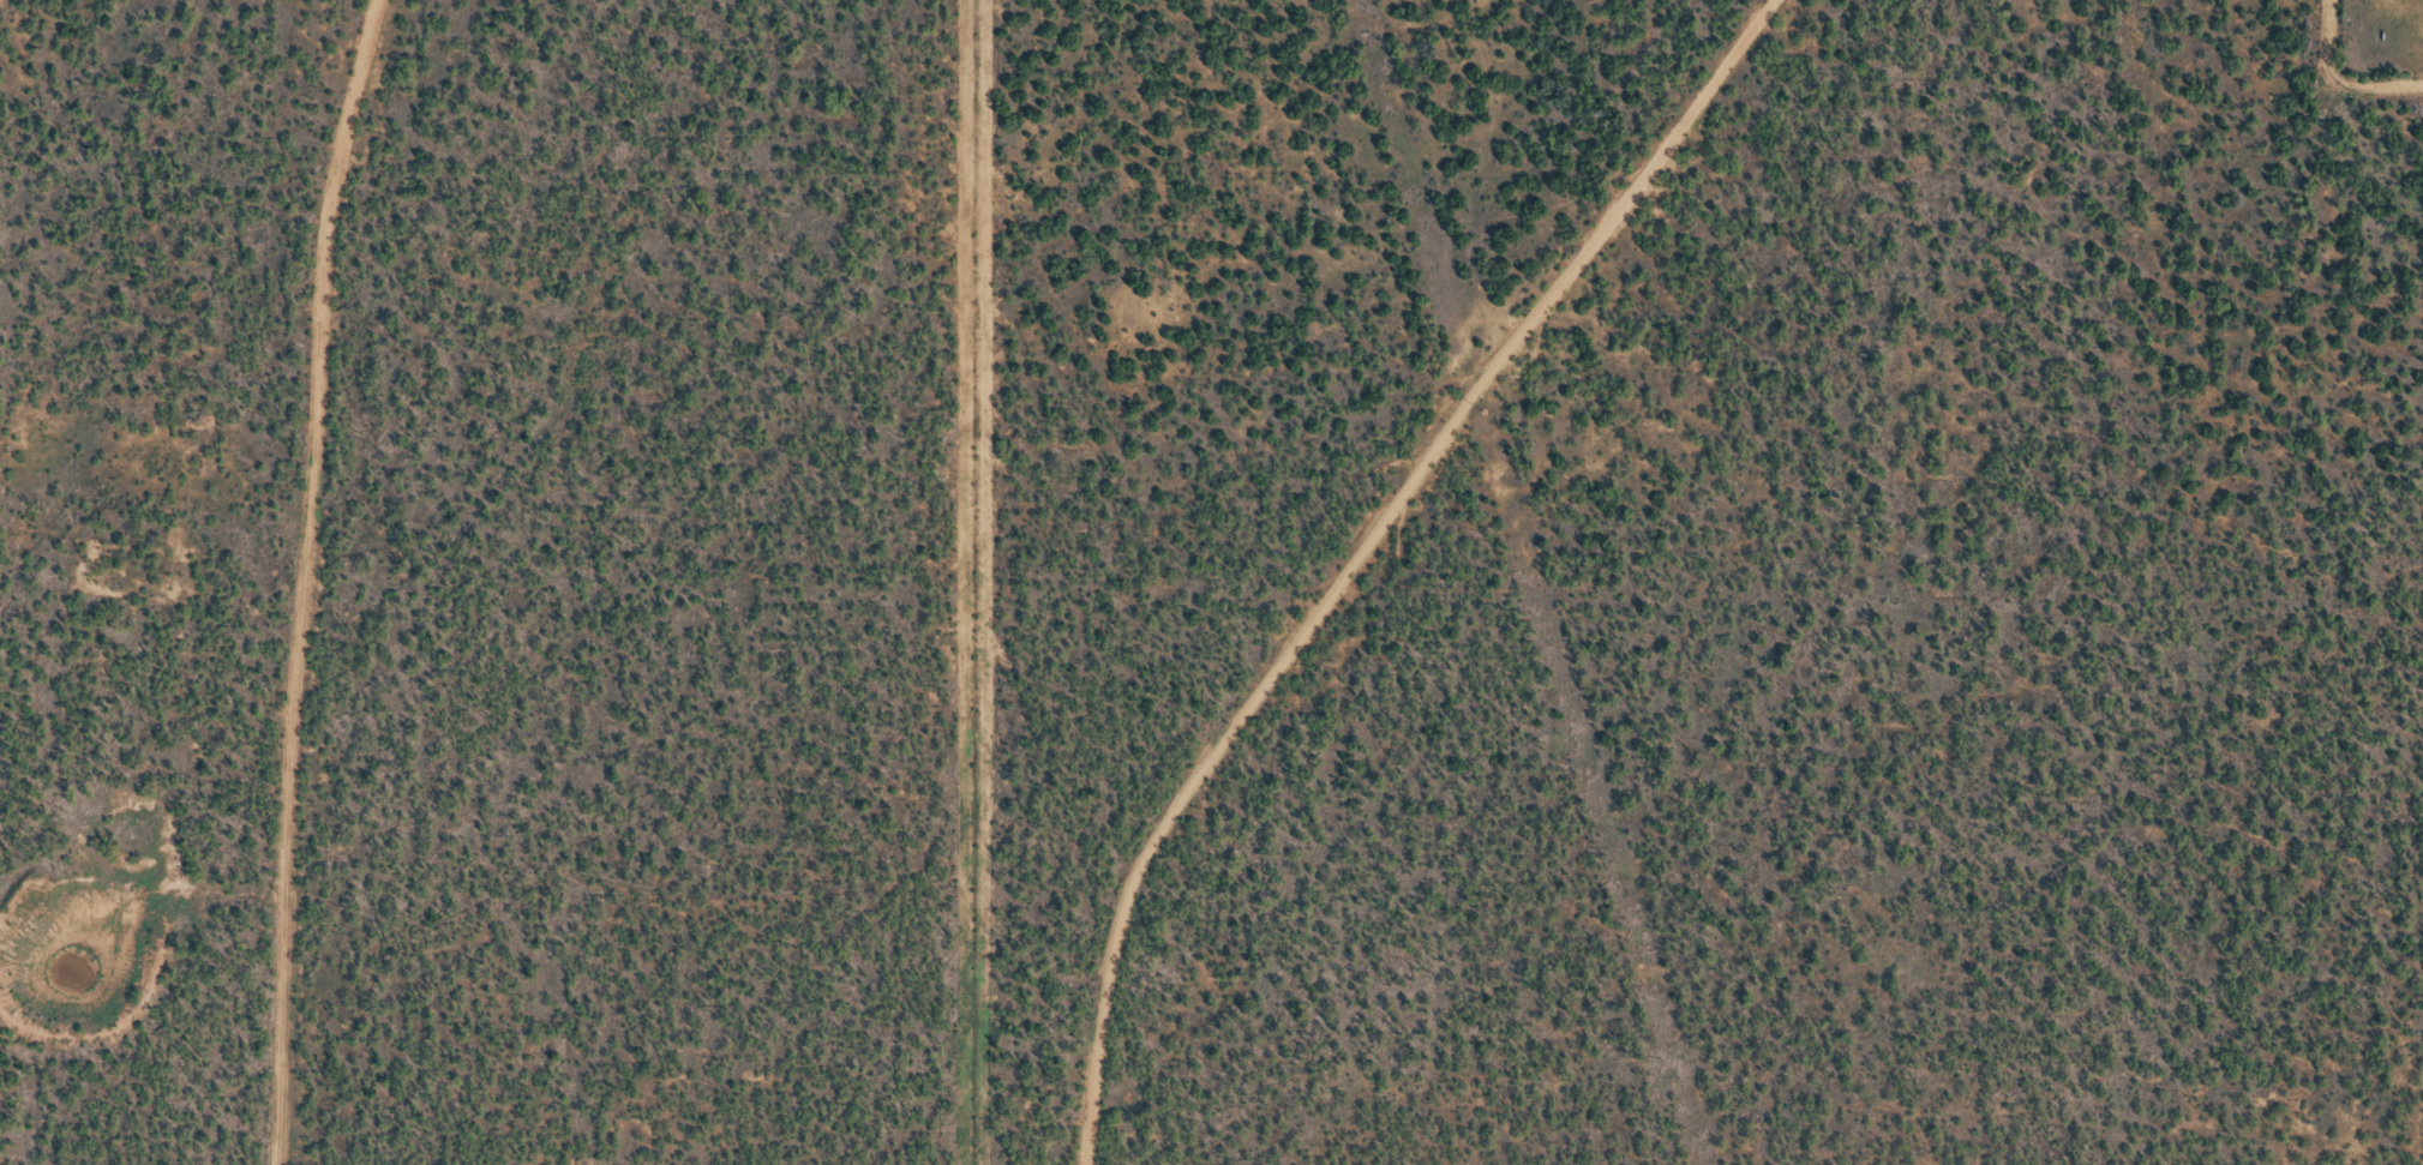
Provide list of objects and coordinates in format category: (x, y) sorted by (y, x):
road: (1361, 551)

